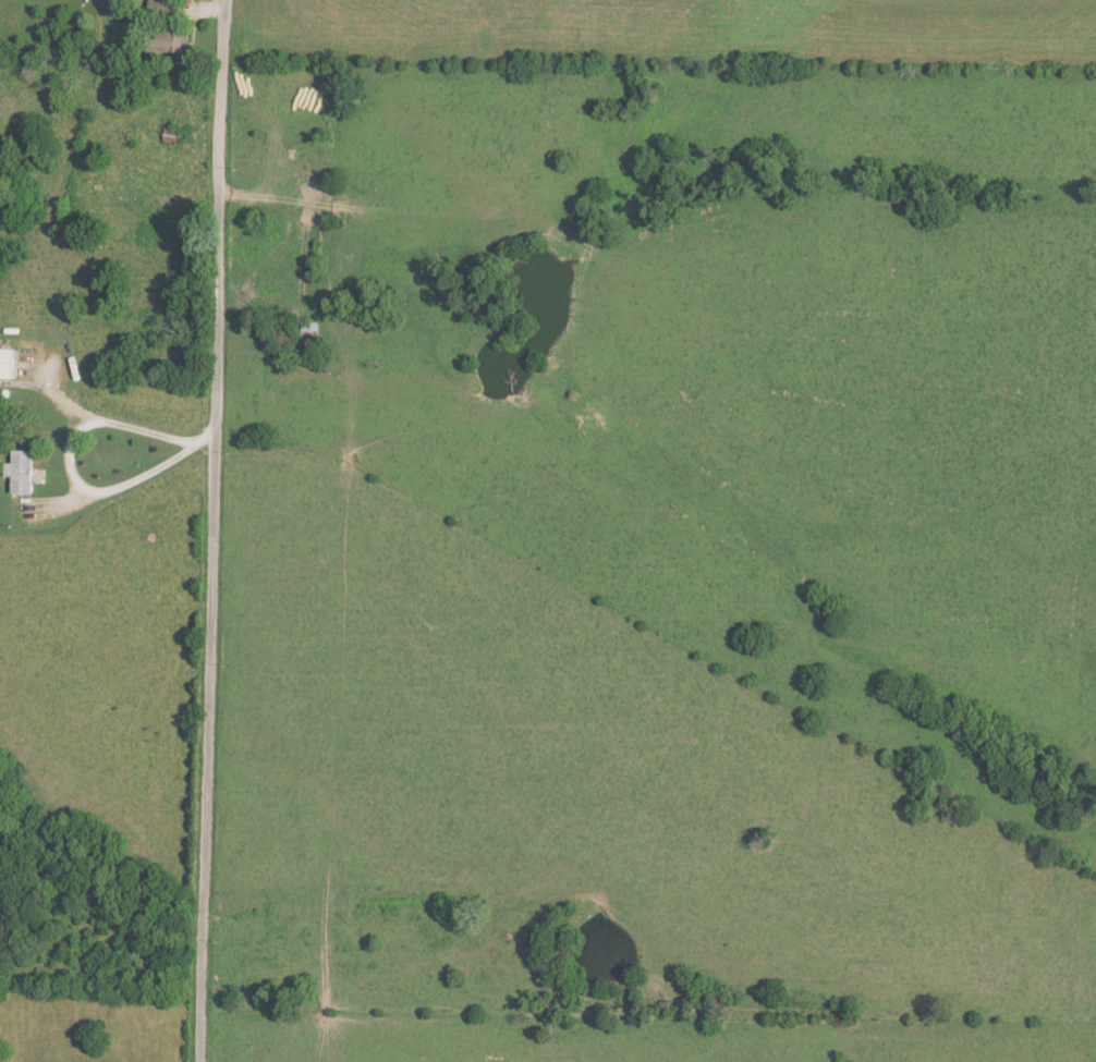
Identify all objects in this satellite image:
building: (161, 11)
building: (170, 41)
building: (173, 135)
building: (308, 326)
building: (8, 363)
road: (119, 422)
road: (203, 437)
building: (21, 471)
road: (210, 530)

